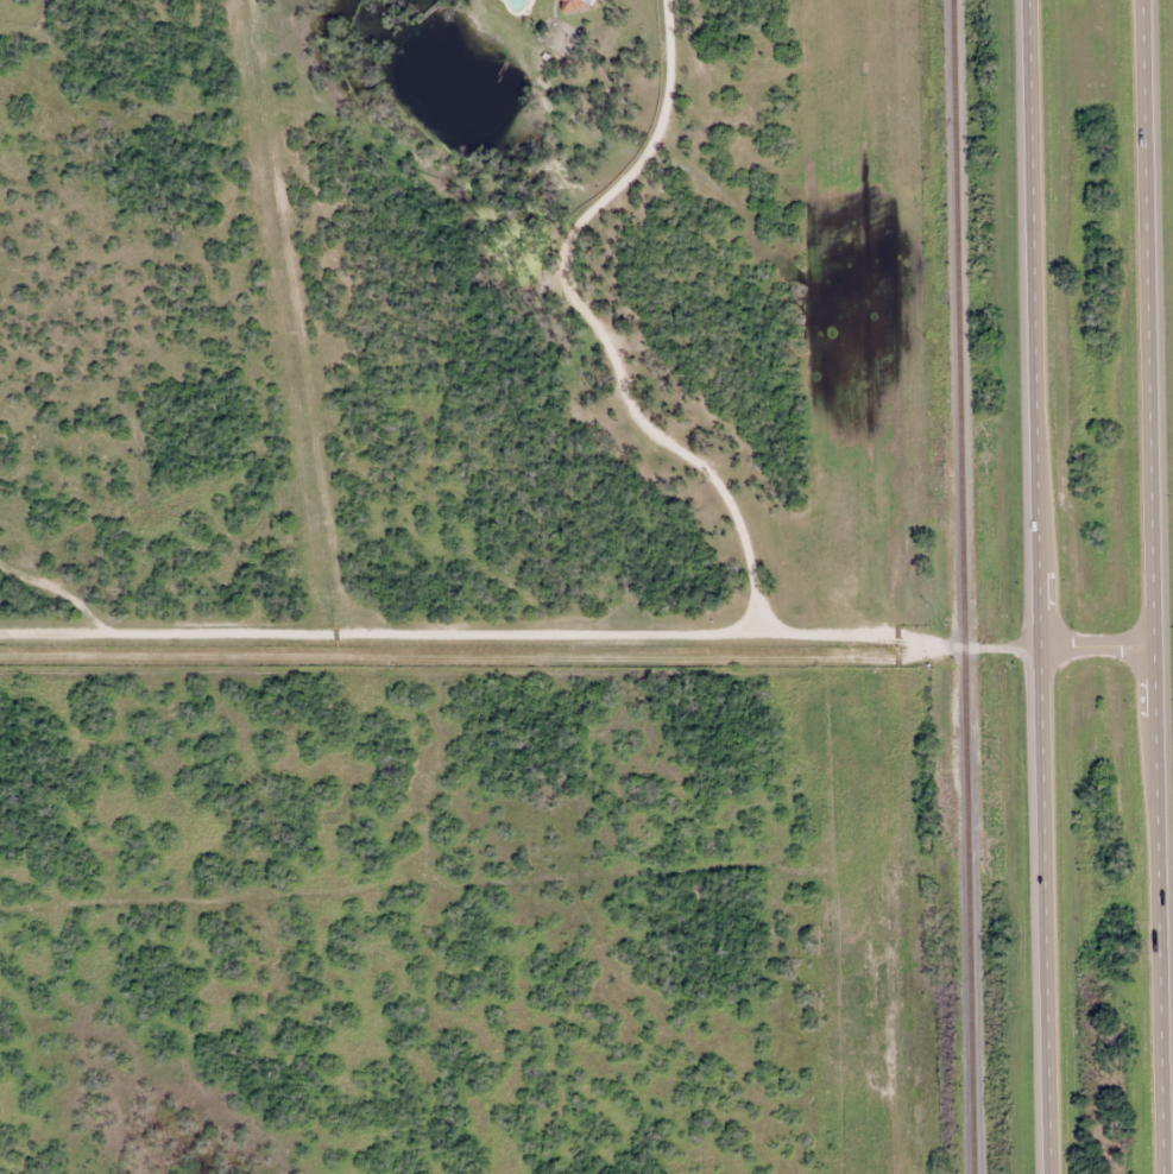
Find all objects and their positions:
building: (570, 5)
road: (594, 328)
railway: (965, 587)
road: (1036, 587)
road: (1153, 587)
road: (576, 646)

